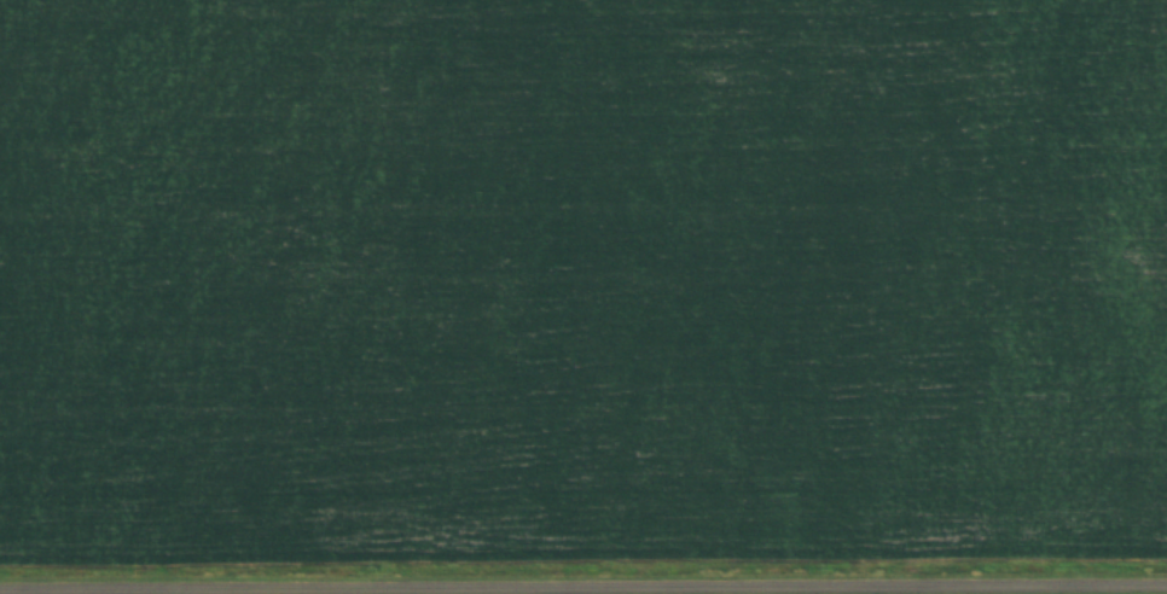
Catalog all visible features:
road: (583, 590)

